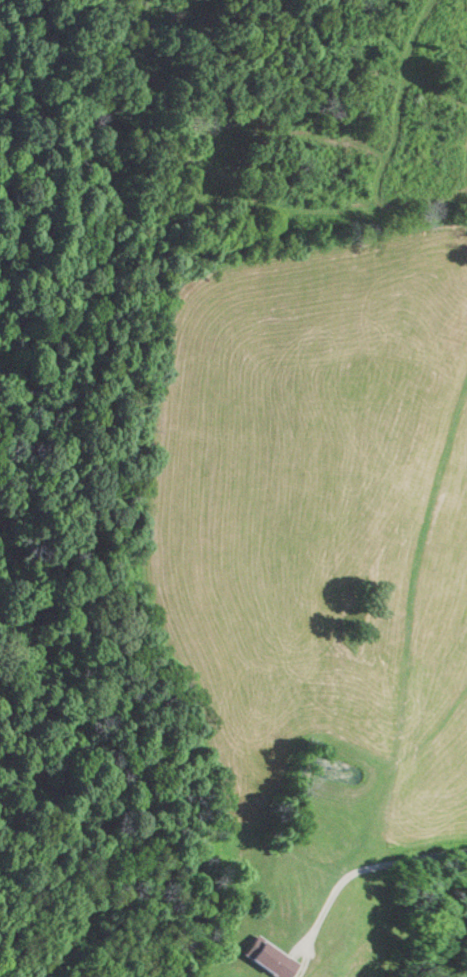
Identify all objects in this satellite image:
road: (367, 871)
building: (268, 957)

